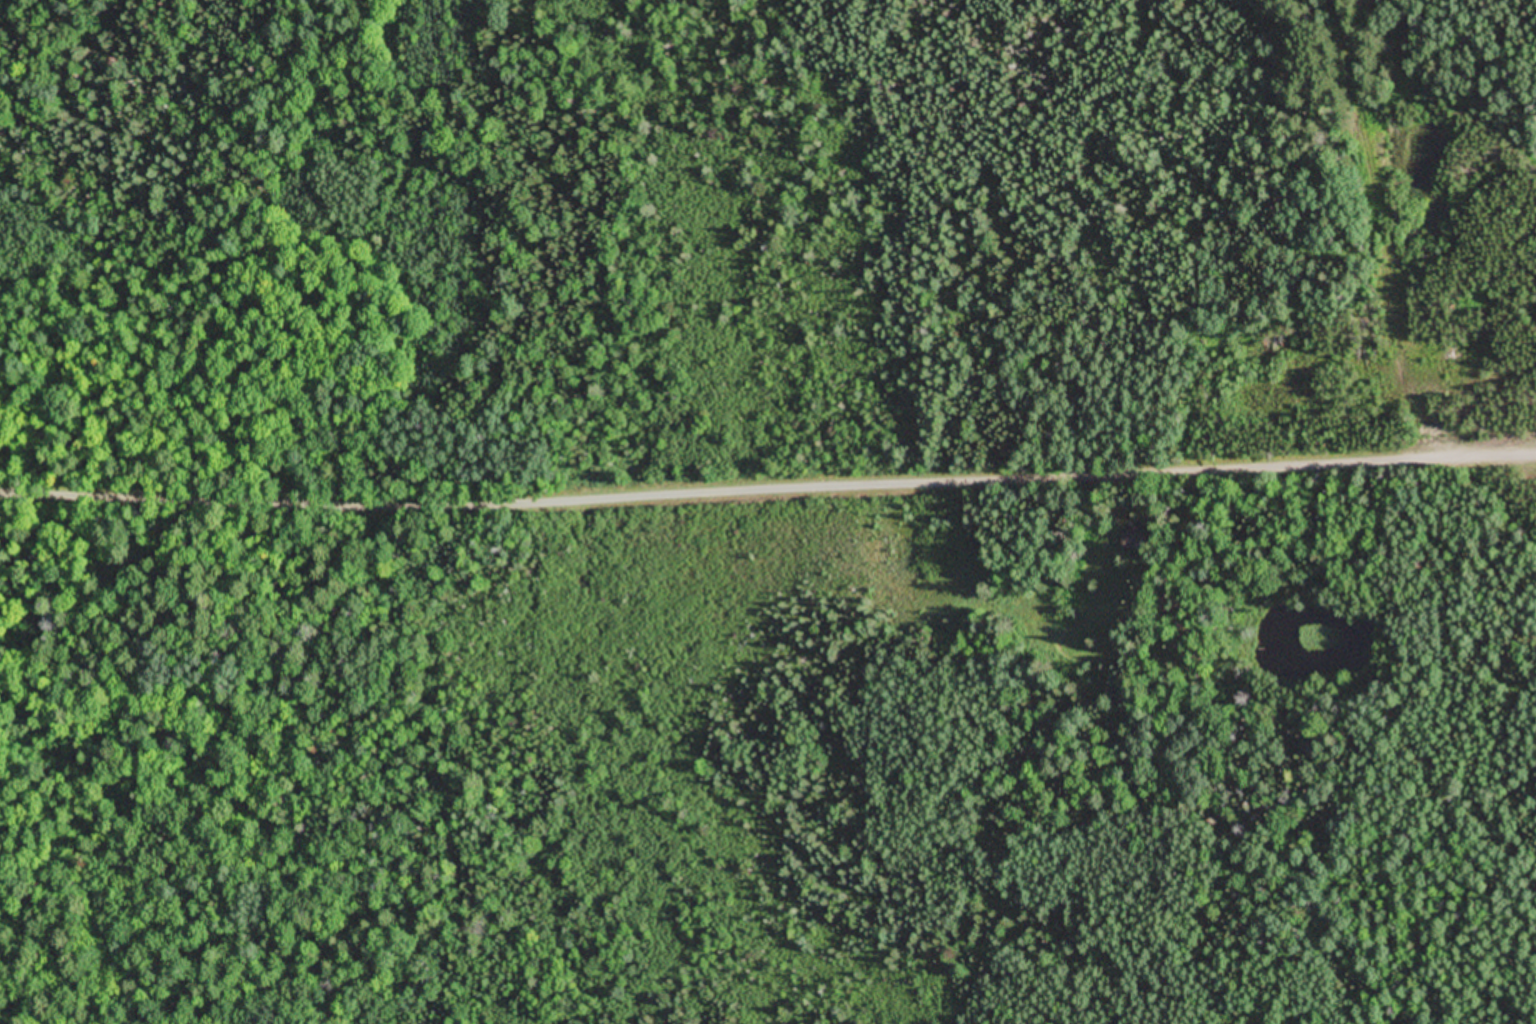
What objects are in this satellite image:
road: (1388, 230)
road: (768, 493)

